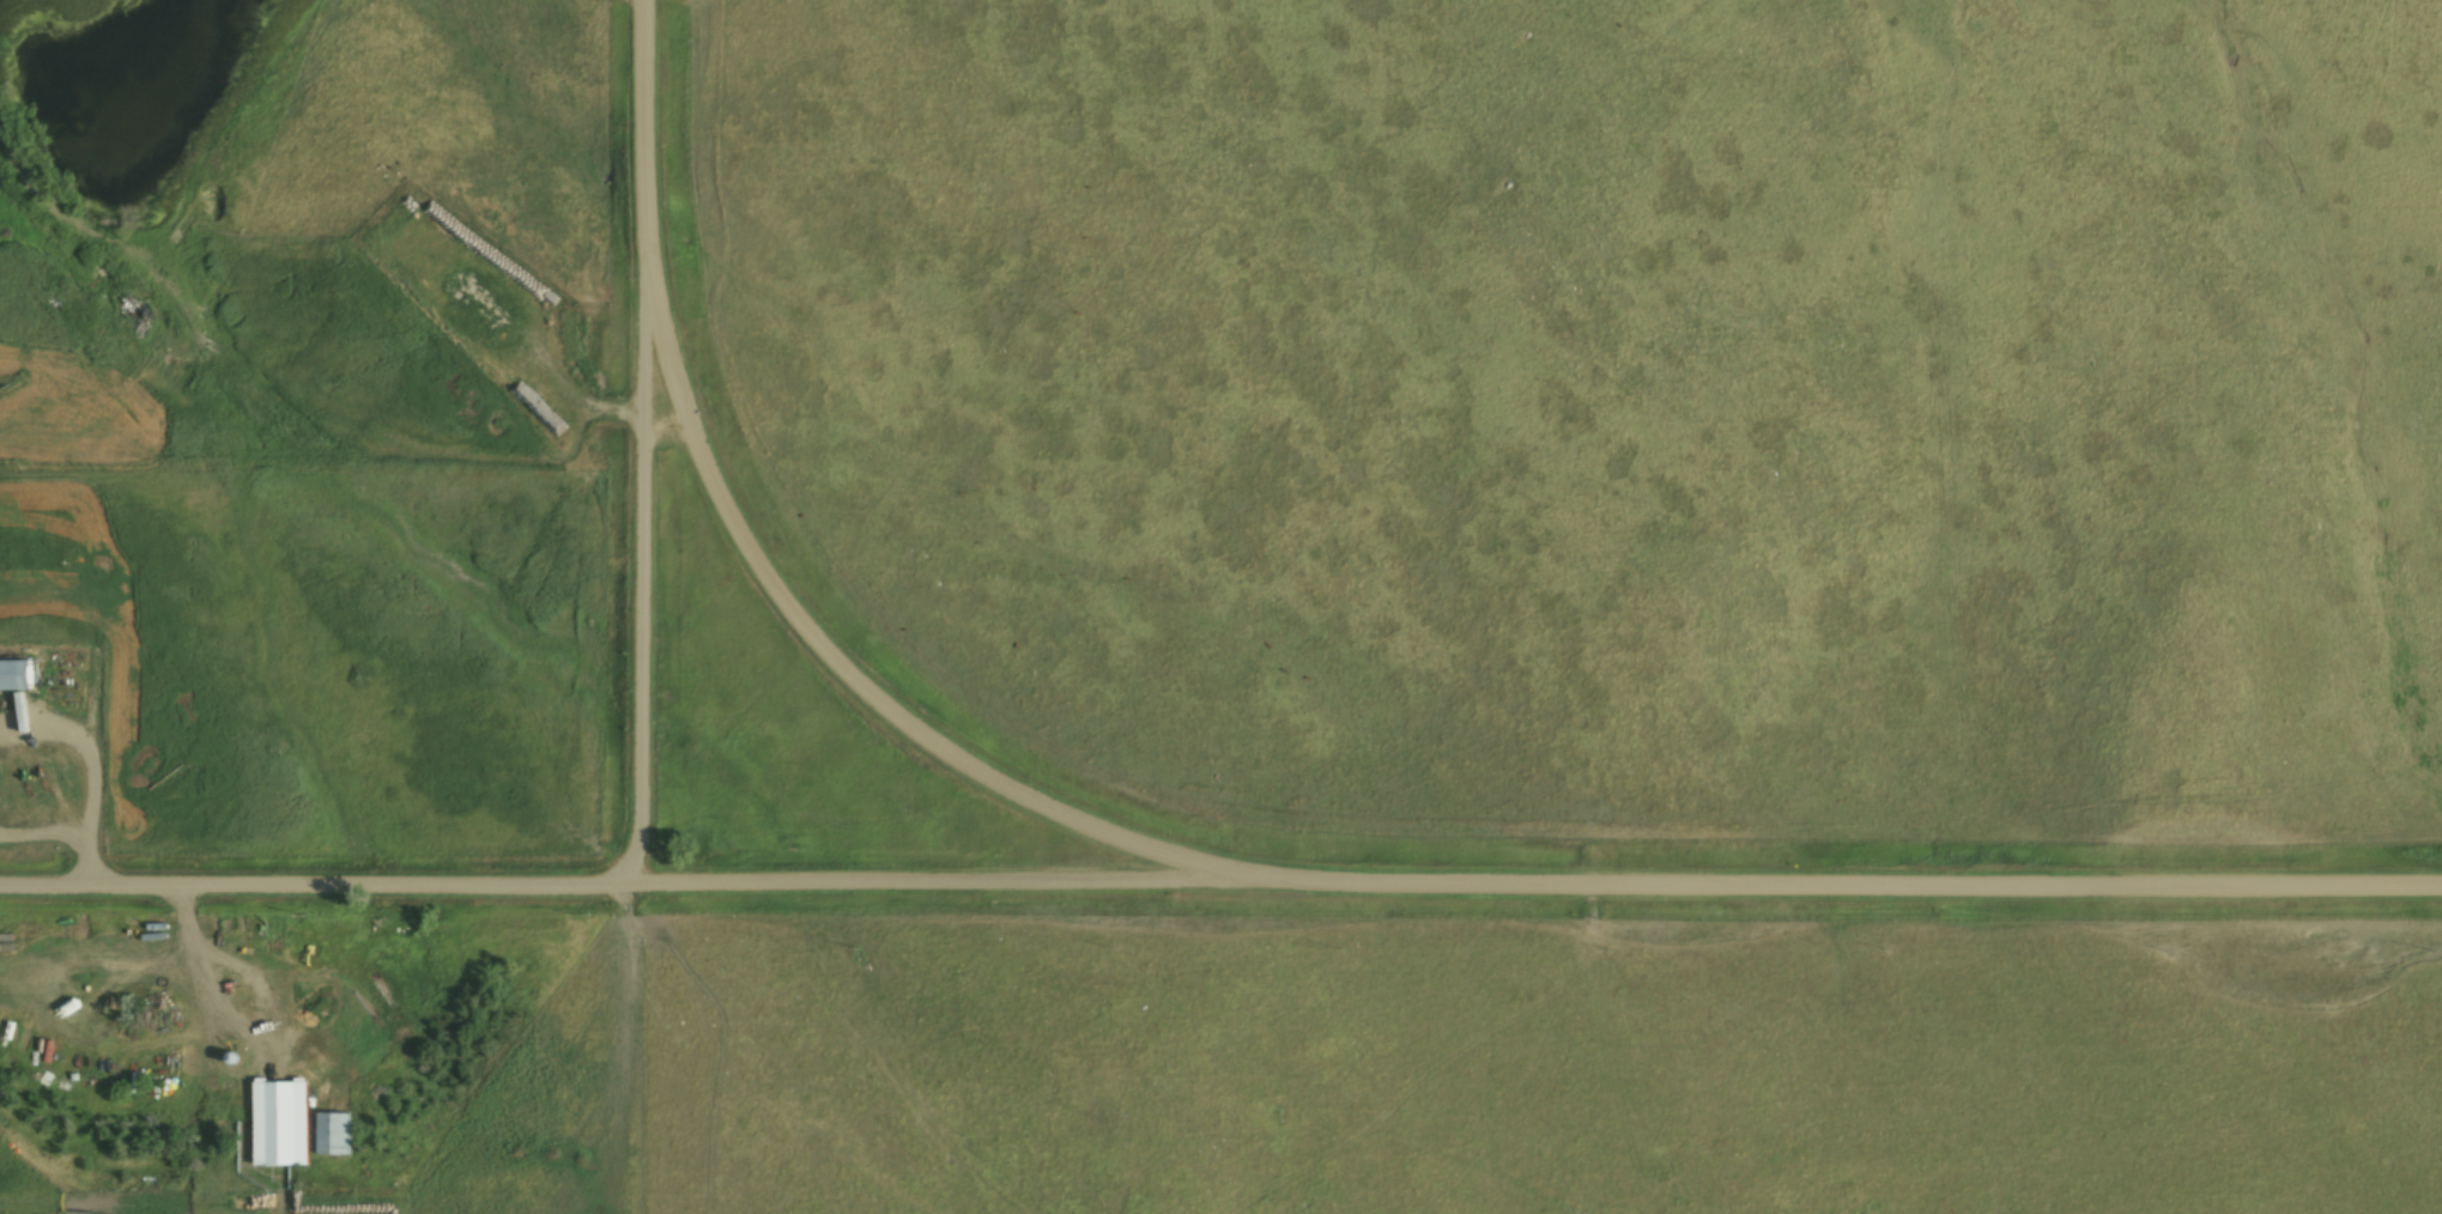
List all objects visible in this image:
road: (646, 442)
building: (14, 675)
road: (868, 688)
road: (1220, 886)

